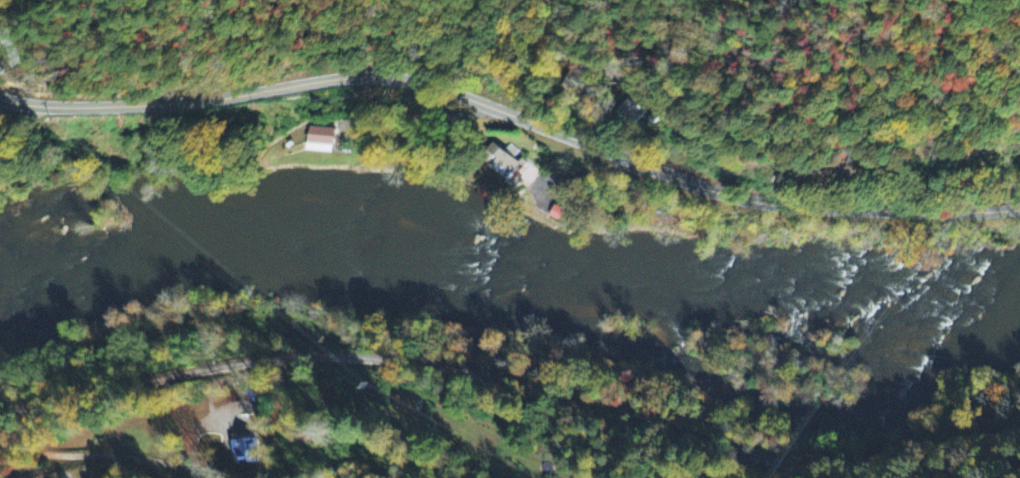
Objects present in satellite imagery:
power tower: (9, 69)
building: (630, 114)
road: (513, 115)
building: (319, 141)
building: (503, 166)
building: (558, 214)
river: (274, 238)
river: (780, 293)
railway: (512, 385)
building: (243, 452)
road: (111, 456)

